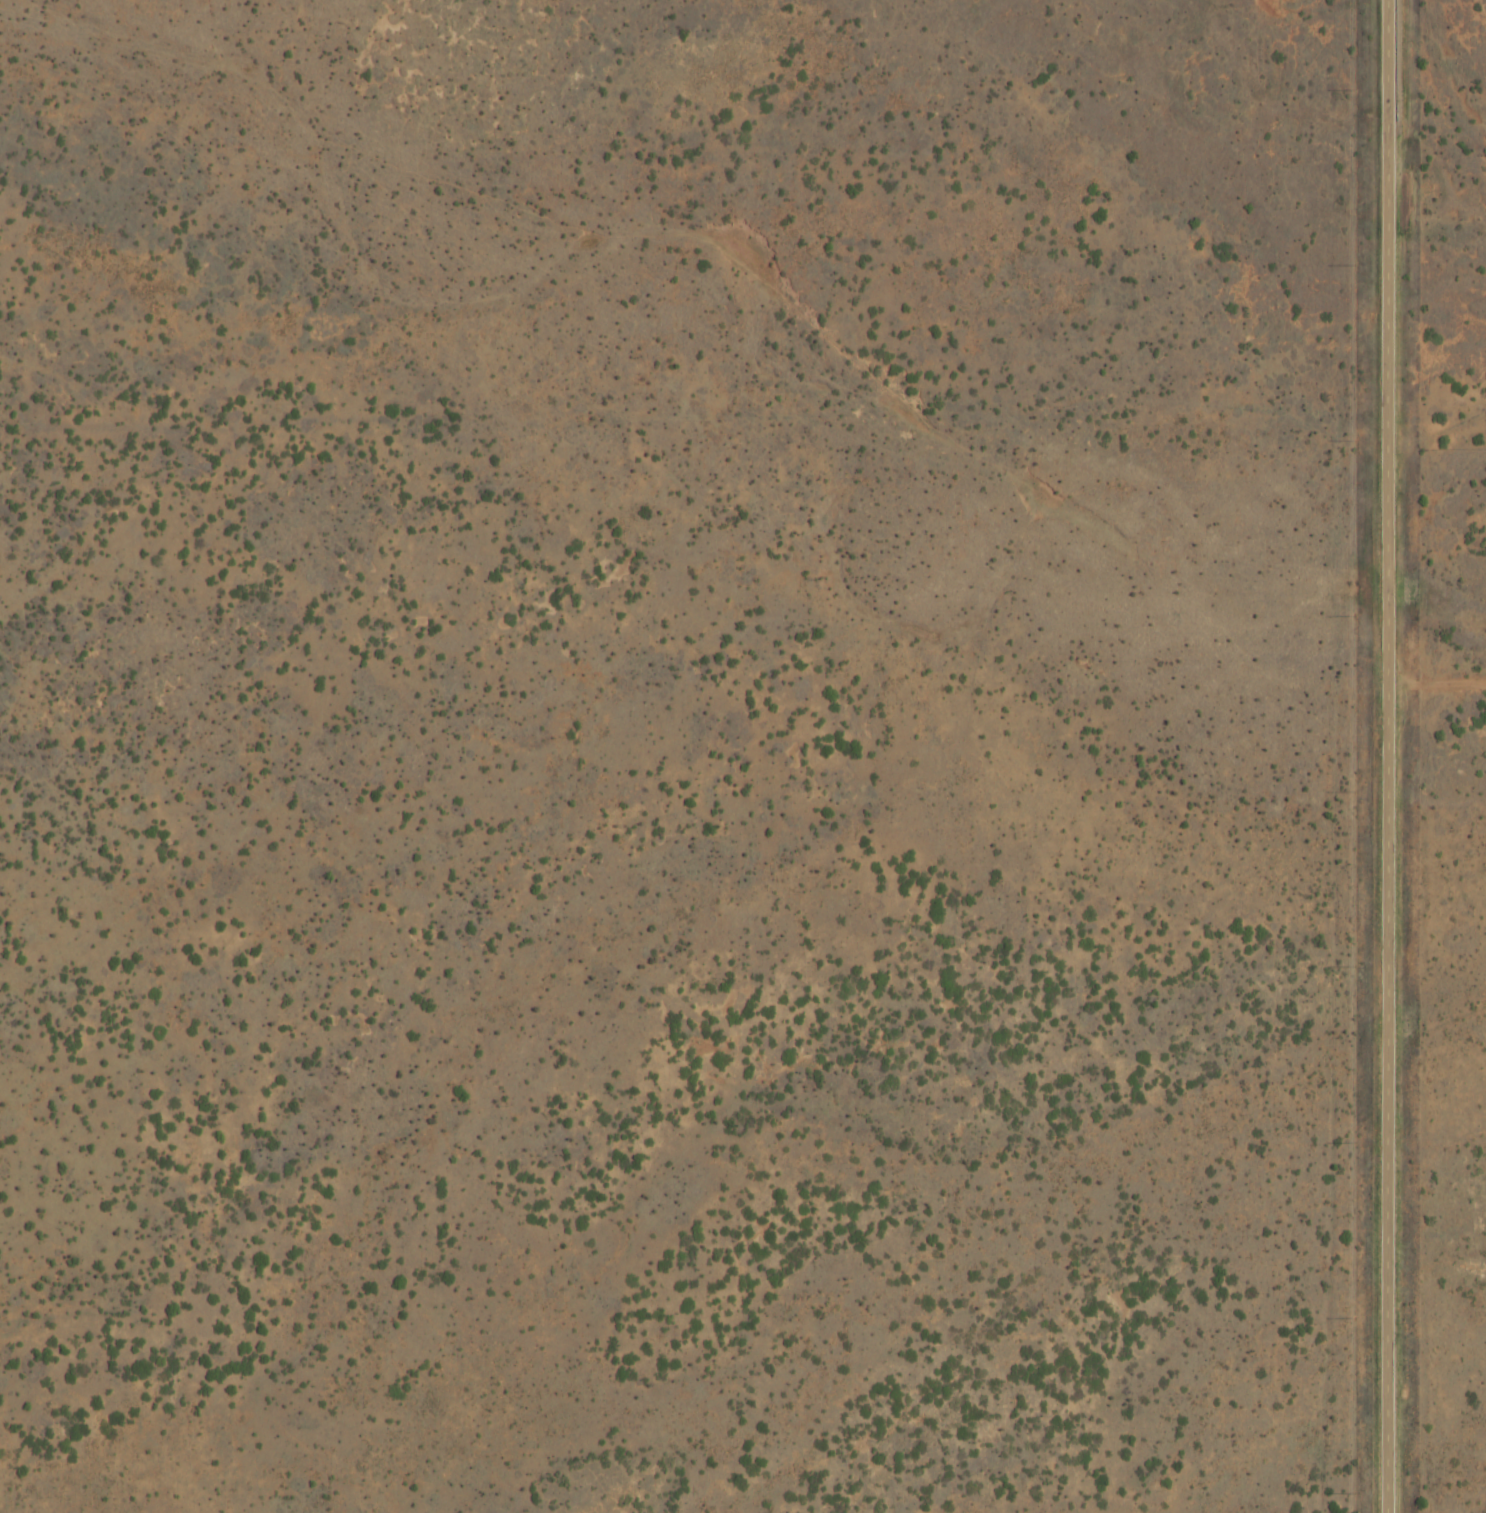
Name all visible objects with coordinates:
road: (1409, 756)

